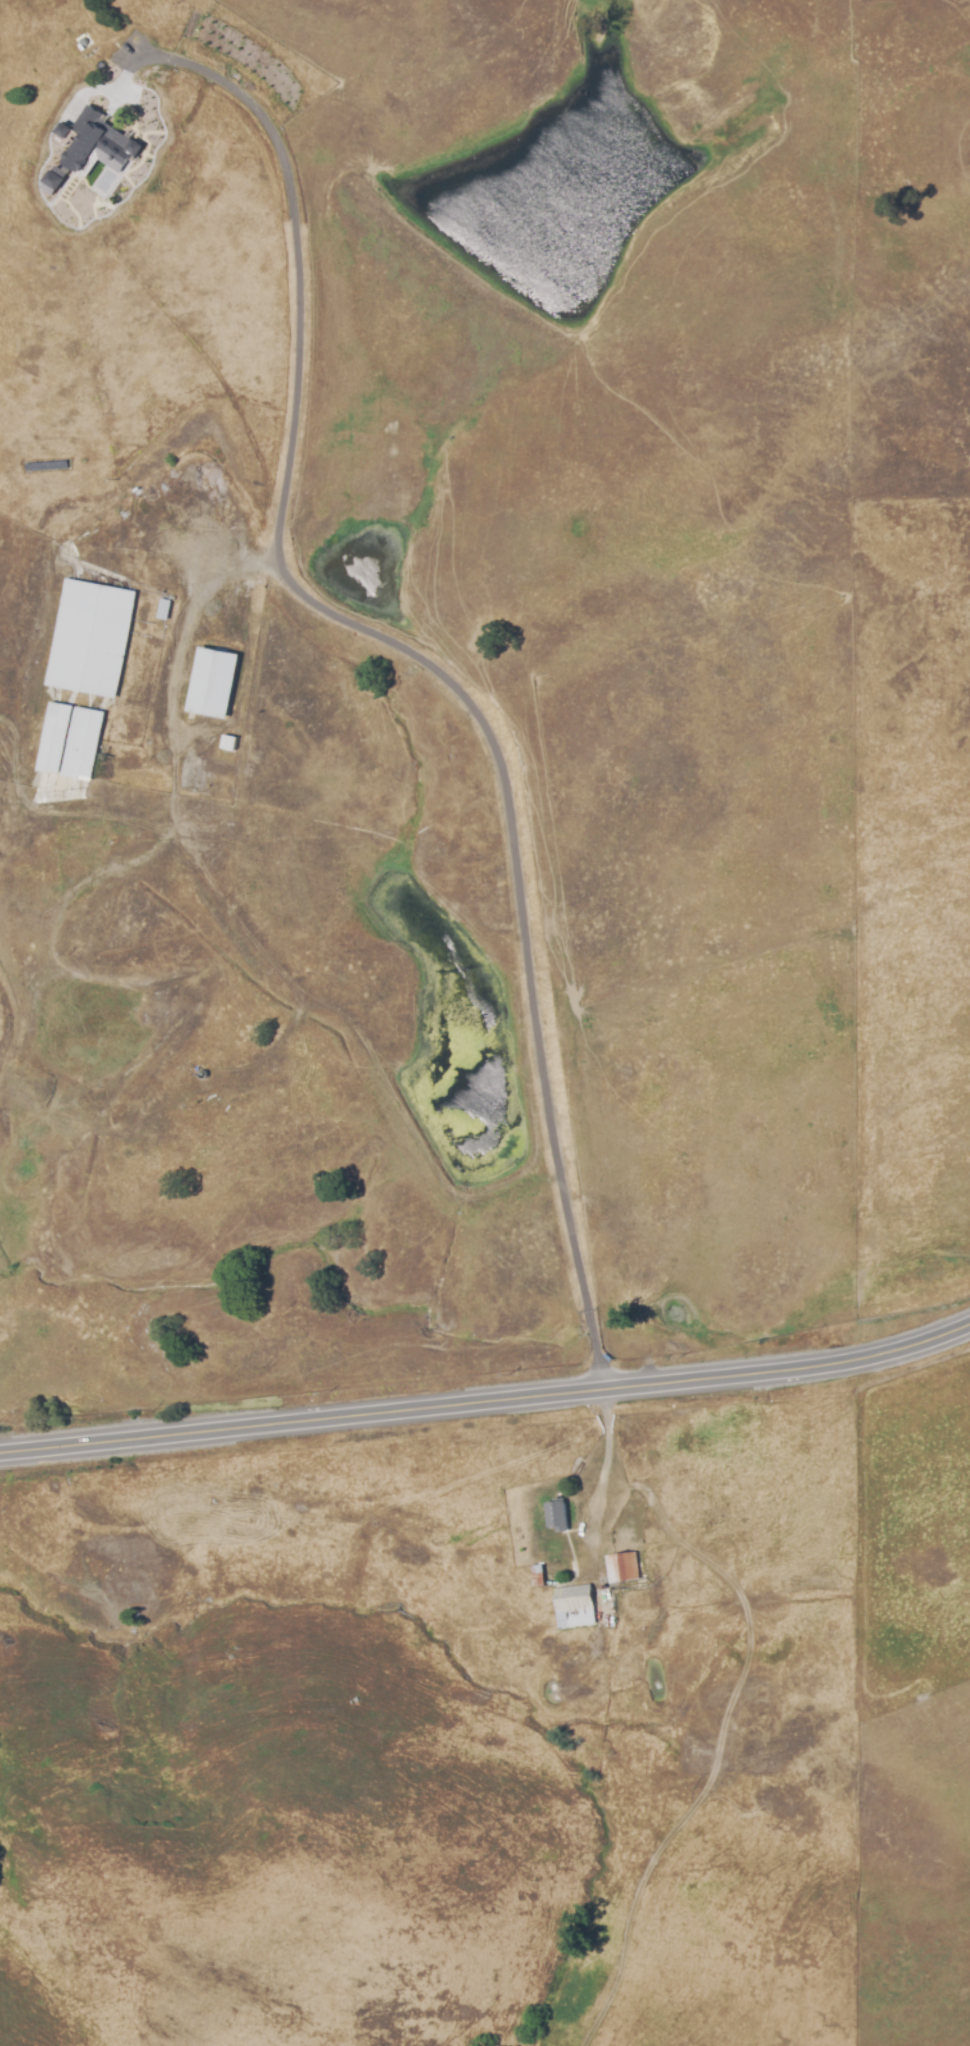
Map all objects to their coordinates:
building: (63, 133)
building: (91, 157)
building: (54, 179)
building: (154, 512)
building: (166, 609)
road: (184, 621)
building: (89, 638)
road: (430, 673)
building: (213, 682)
building: (70, 740)
building: (230, 742)
building: (203, 1074)
road: (487, 1402)
road: (605, 1476)
building: (558, 1517)
building: (576, 1569)
building: (624, 1569)
building: (540, 1574)
building: (577, 1606)

